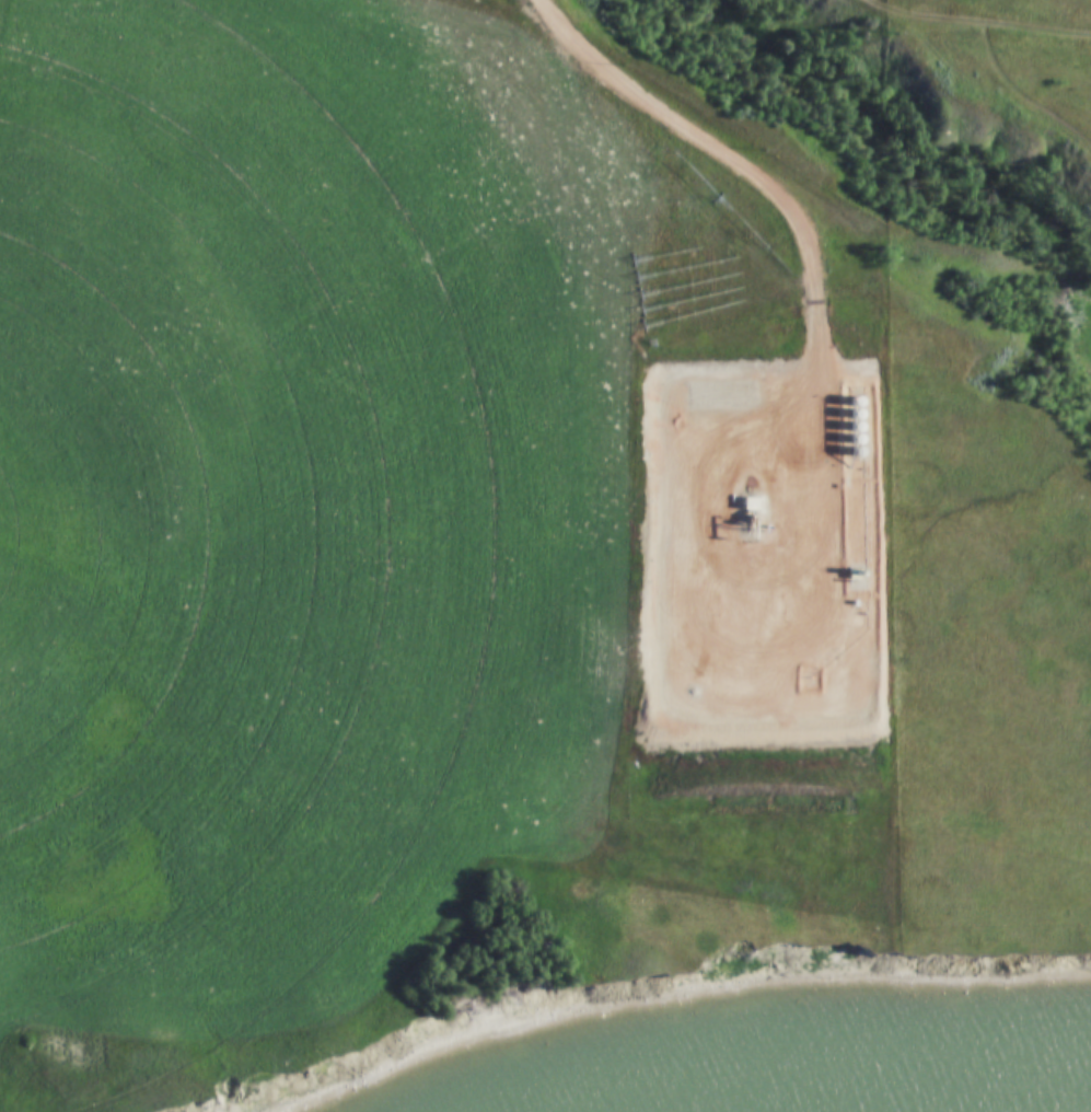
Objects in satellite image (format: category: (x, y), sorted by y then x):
road: (977, 28)

